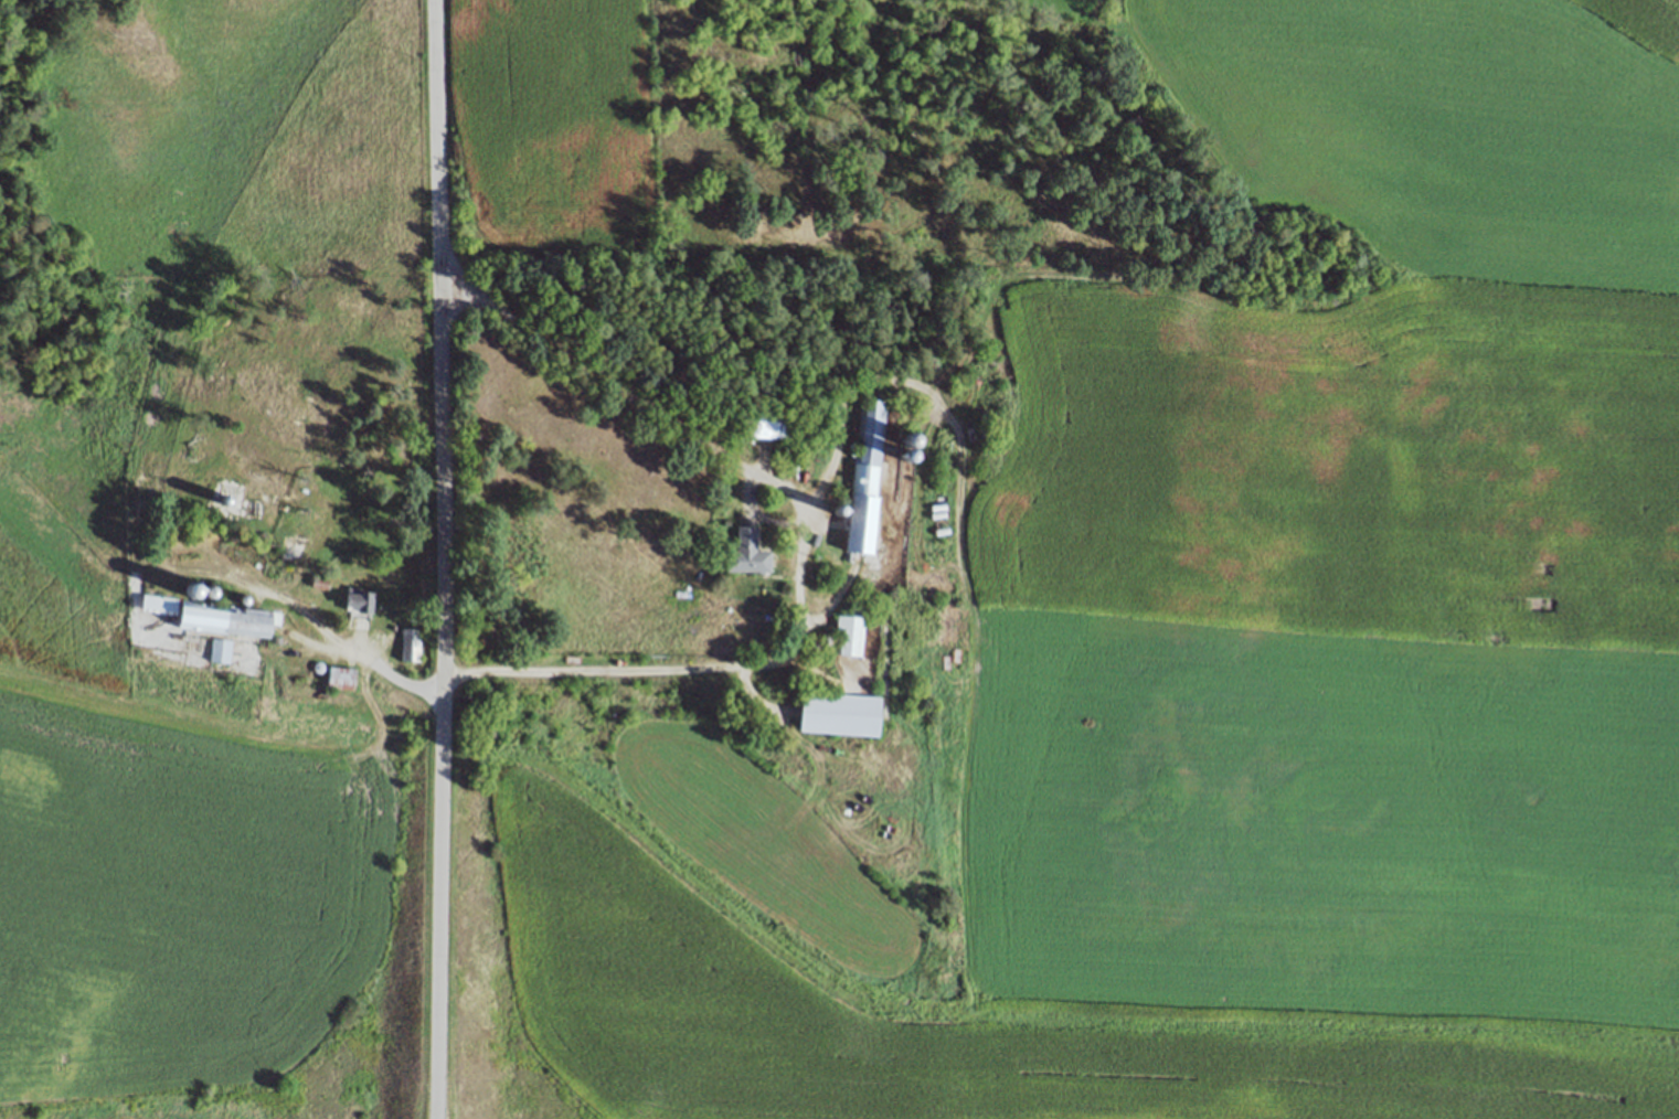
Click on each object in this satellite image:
crop: (567, 137)
road: (1075, 284)
building: (766, 420)
building: (862, 479)
building: (284, 544)
road: (801, 545)
building: (746, 552)
road: (443, 558)
building: (316, 583)
building: (355, 600)
building: (210, 611)
building: (847, 633)
crop: (1272, 641)
building: (407, 643)
building: (217, 650)
road: (366, 653)
building: (339, 676)
building: (838, 712)

